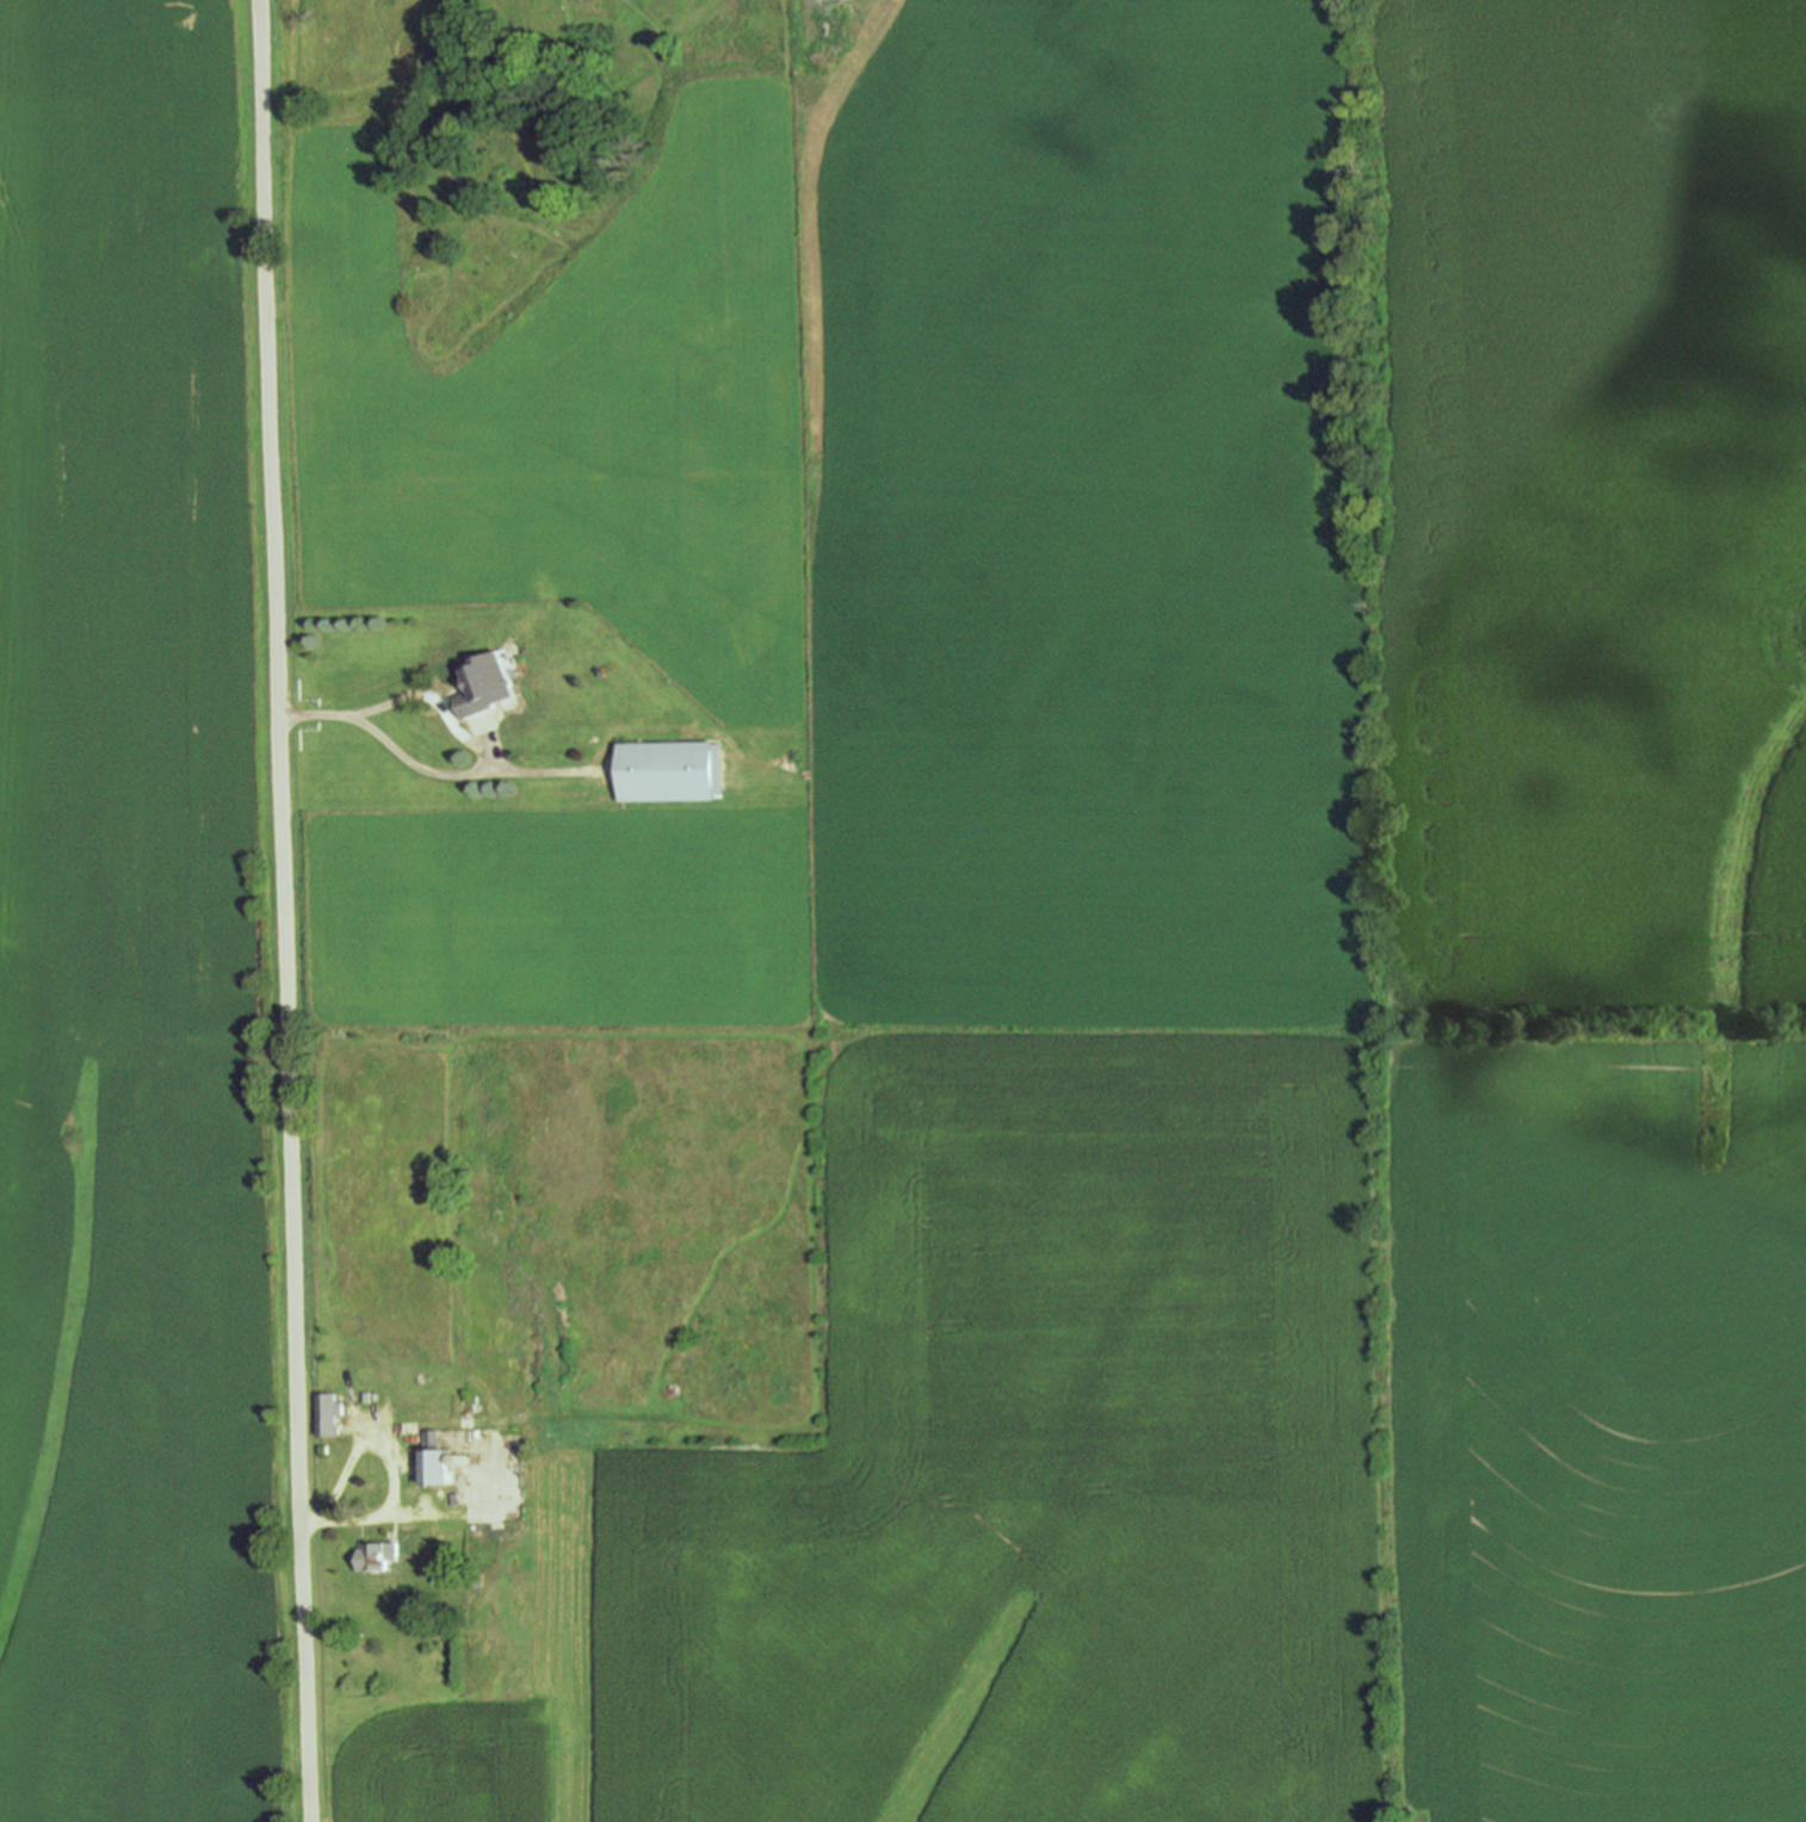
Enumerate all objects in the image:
building: (487, 683)
building: (669, 770)
road: (280, 911)
building: (328, 1412)
building: (437, 1461)
building: (378, 1555)
building: (447, 1576)

